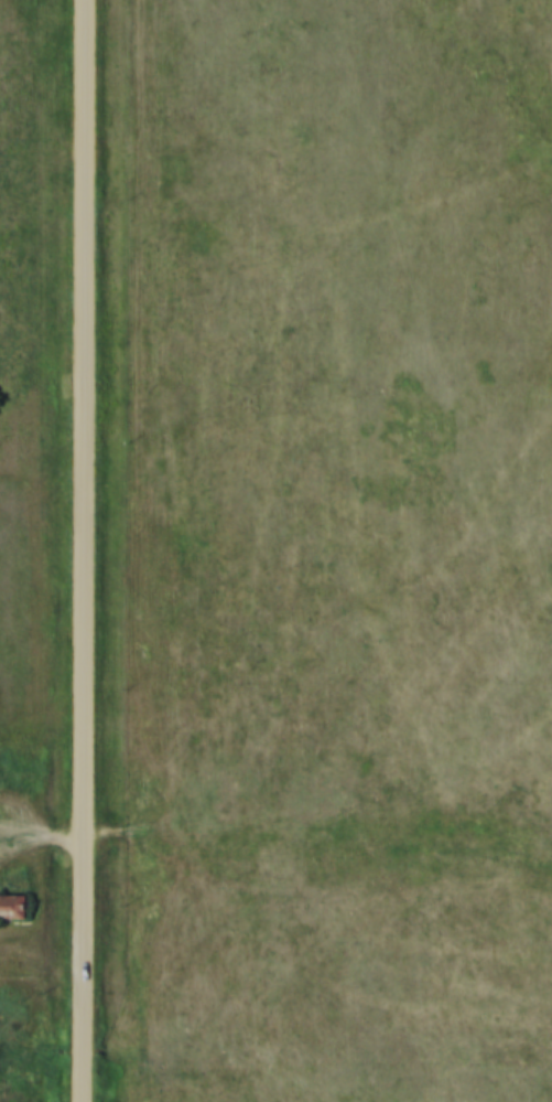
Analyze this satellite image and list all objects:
road: (90, 550)
road: (45, 832)
building: (14, 901)

